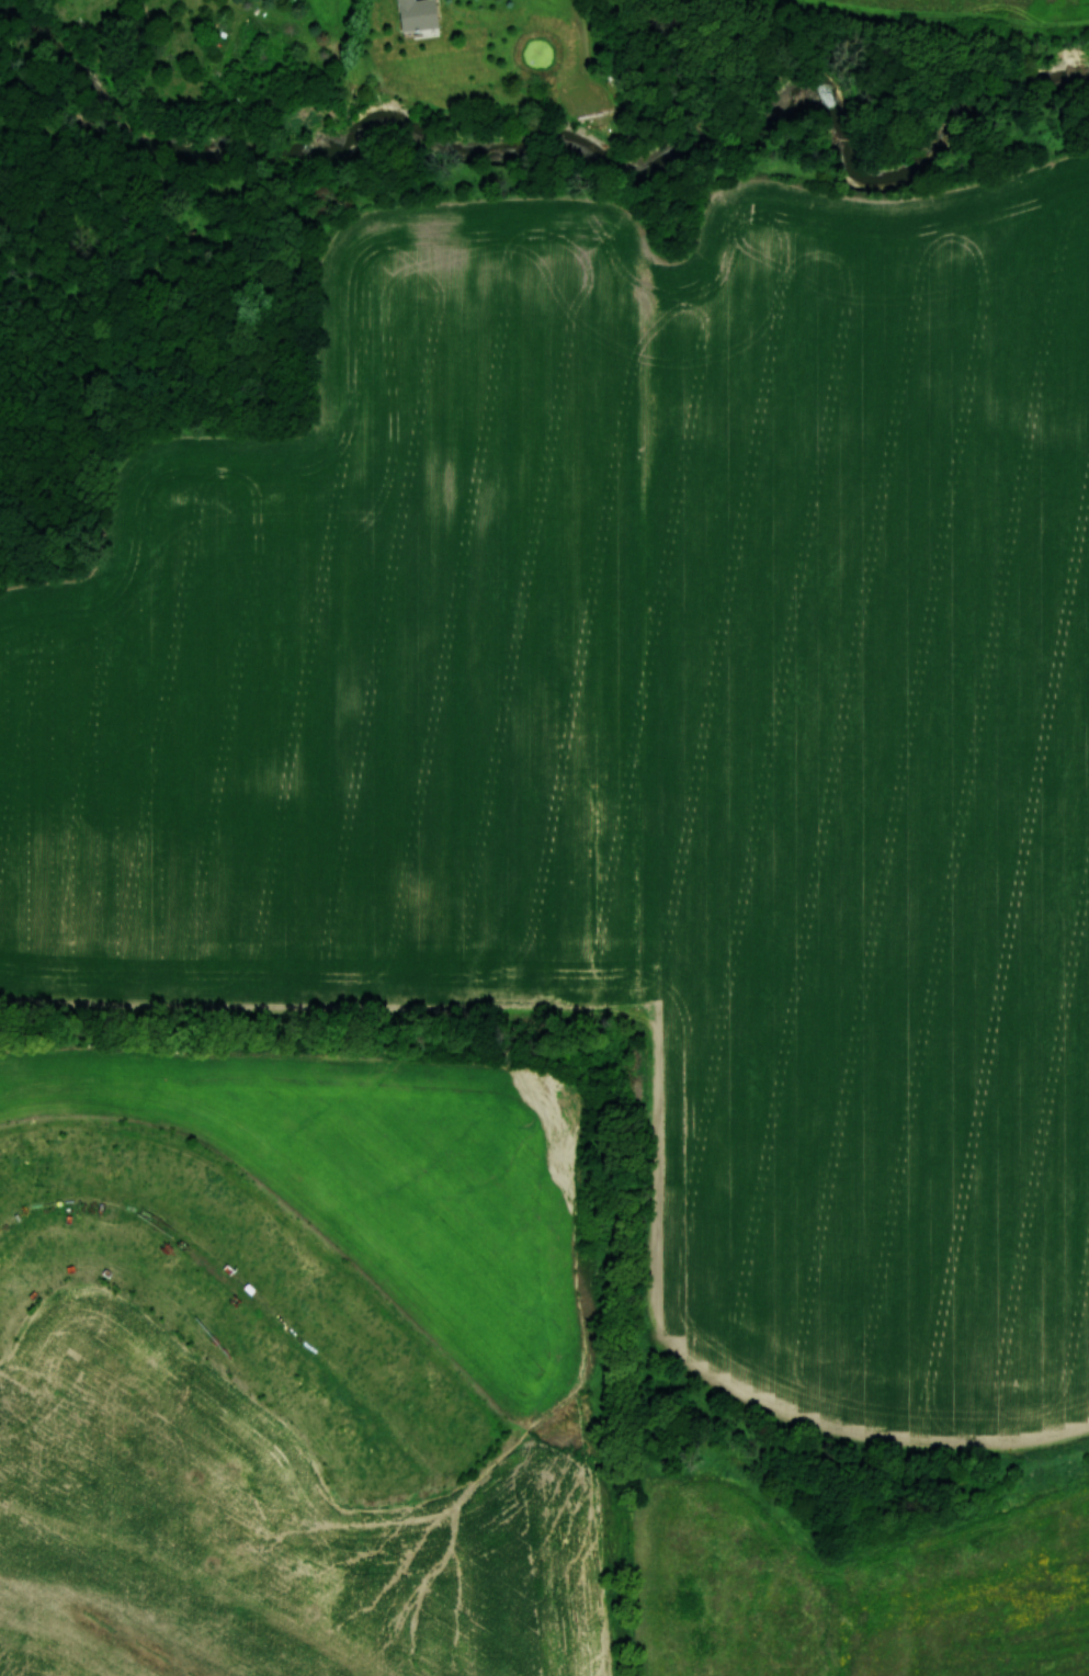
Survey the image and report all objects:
building: (416, 14)

